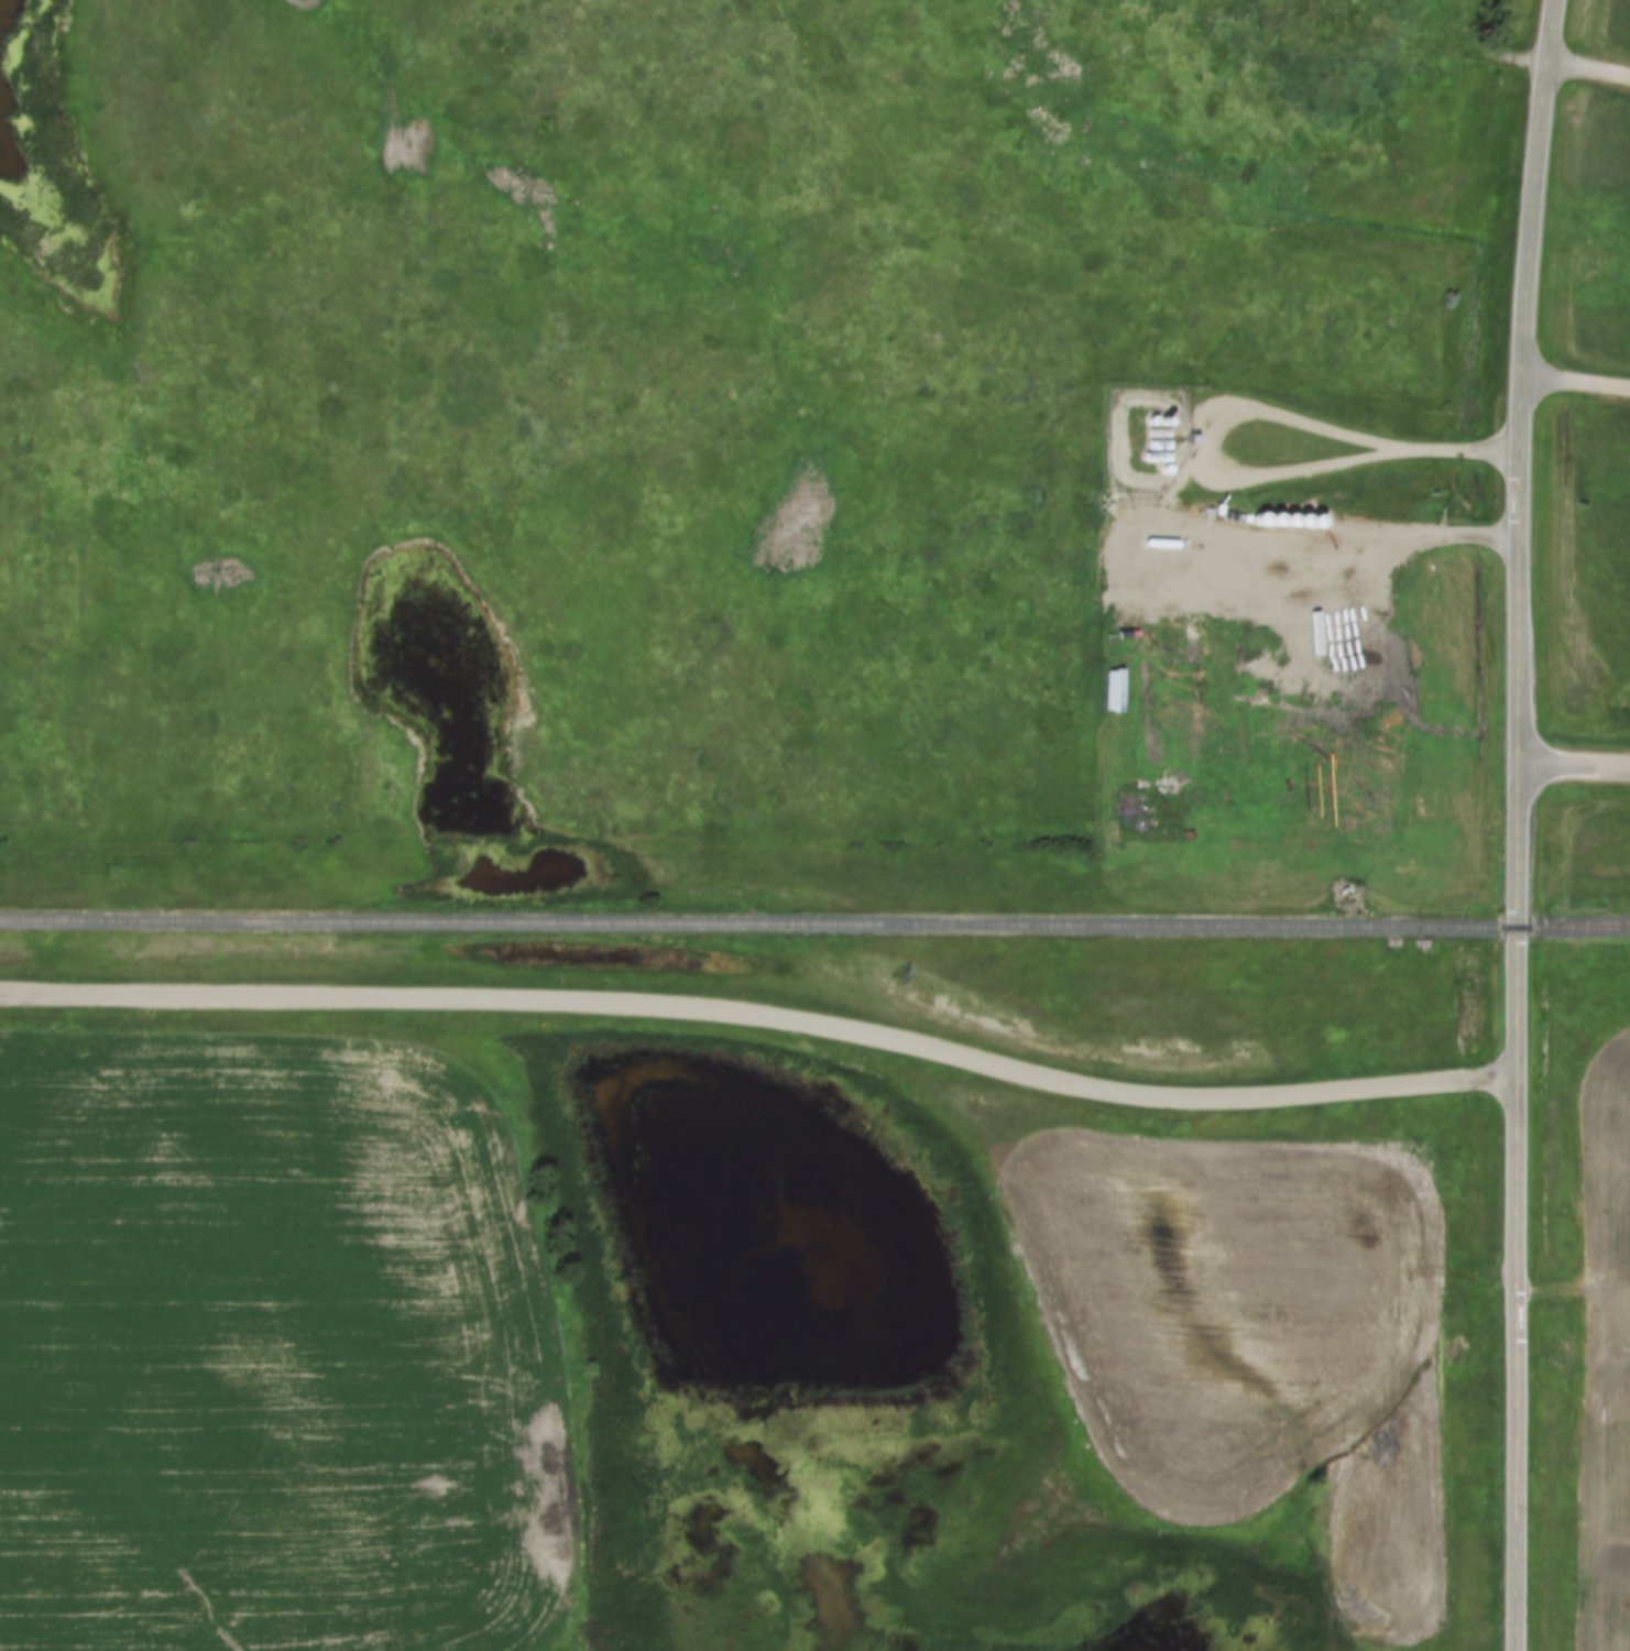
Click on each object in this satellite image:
road: (1591, 69)
road: (1577, 385)
storage tank: (1157, 422)
storage tank: (1156, 434)
building: (1189, 439)
storage tank: (1157, 446)
storage tank: (1155, 458)
road: (1255, 471)
building: (1210, 514)
road: (1364, 535)
storage tank: (1160, 545)
road: (1575, 769)
road: (1518, 824)
railway: (814, 923)
railway: (1607, 928)
road: (764, 1012)

